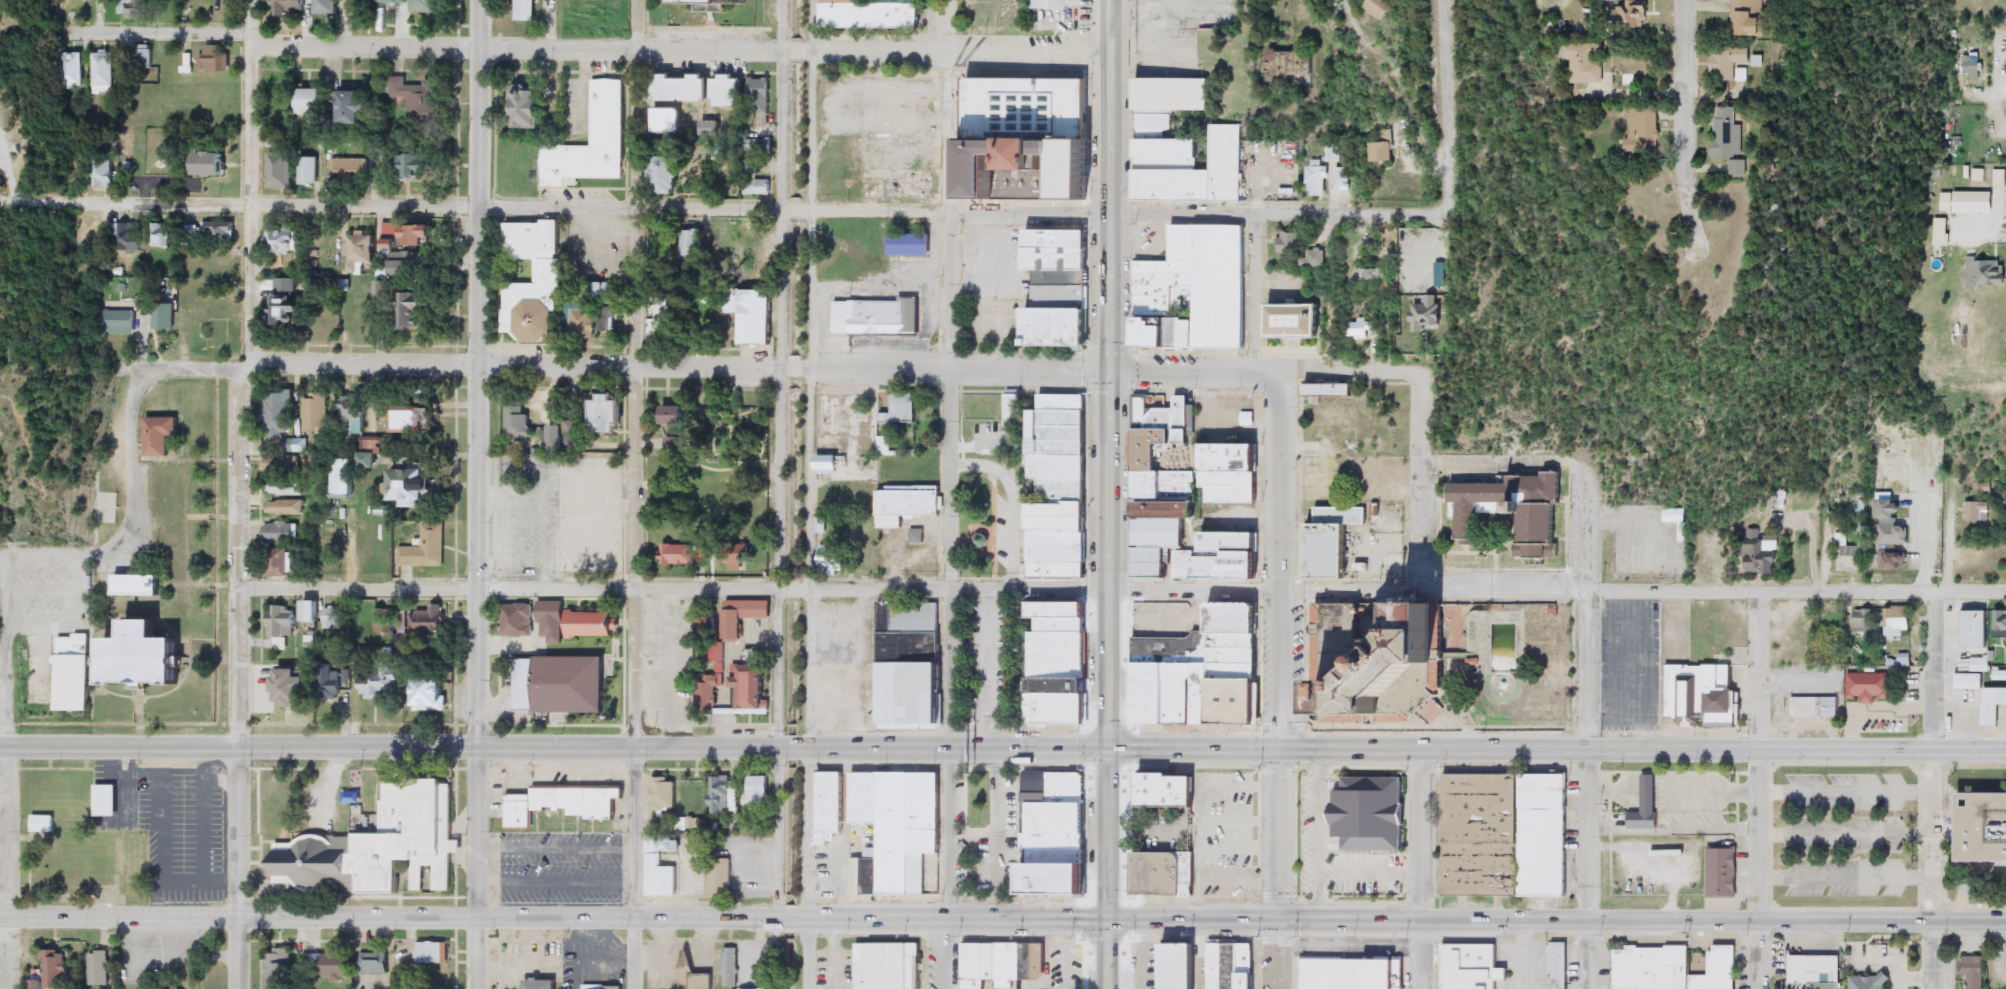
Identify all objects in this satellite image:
road: (1534, 0)
building: (717, 2)
building: (1051, 4)
building: (429, 6)
road: (1349, 6)
building: (72, 7)
building: (290, 7)
building: (326, 7)
building: (1377, 8)
building: (135, 9)
building: (525, 10)
building: (1631, 13)
building: (869, 14)
building: (1754, 18)
road: (585, 49)
building: (144, 59)
building: (213, 59)
building: (1586, 62)
building: (1729, 63)
building: (1969, 66)
building: (72, 69)
building: (103, 74)
building: (684, 88)
building: (732, 91)
road: (2005, 91)
building: (279, 97)
building: (417, 97)
building: (313, 101)
building: (762, 102)
road: (1447, 102)
building: (354, 106)
building: (529, 107)
road: (1687, 107)
building: (607, 113)
building: (670, 120)
building: (711, 128)
building: (1645, 130)
building: (1731, 135)
building: (1020, 138)
building: (759, 145)
building: (1182, 147)
building: (1386, 148)
building: (214, 164)
building: (417, 166)
building: (748, 167)
building: (348, 169)
building: (281, 170)
building: (309, 170)
building: (103, 173)
building: (1339, 175)
building: (666, 178)
building: (1318, 178)
road: (39, 201)
building: (1960, 202)
road: (593, 206)
road: (1279, 212)
building: (220, 232)
building: (391, 232)
building: (1936, 232)
building: (162, 235)
building: (419, 235)
road: (2005, 235)
building: (130, 238)
building: (284, 240)
building: (663, 241)
building: (1290, 242)
building: (910, 244)
building: (691, 245)
building: (756, 250)
building: (361, 253)
building: (1314, 259)
building: (414, 266)
building: (550, 272)
building: (1979, 273)
building: (1374, 275)
building: (606, 291)
building: (1195, 291)
building: (1059, 292)
building: (288, 302)
building: (732, 303)
building: (412, 311)
building: (1428, 315)
building: (665, 316)
building: (165, 317)
building: (758, 317)
building: (876, 318)
building: (1298, 321)
building: (590, 322)
building: (118, 323)
building: (1357, 329)
road: (615, 366)
traffic signals: (1107, 369)
road: (1262, 370)
road: (246, 374)
road: (475, 374)
road: (636, 374)
road: (779, 374)
road: (810, 374)
road: (949, 374)
road: (1106, 374)
building: (1331, 391)
building: (899, 408)
building: (316, 413)
road: (1419, 413)
building: (610, 414)
building: (354, 415)
building: (677, 415)
building: (413, 420)
building: (281, 421)
building: (1014, 421)
building: (518, 422)
building: (161, 435)
building: (677, 445)
building: (557, 446)
building: (885, 446)
building: (368, 453)
building: (317, 460)
building: (281, 463)
building: (830, 463)
building: (741, 469)
building: (1234, 474)
building: (345, 478)
road: (1278, 478)
building: (414, 487)
building: (1060, 487)
building: (287, 488)
railway: (789, 494)
building: (752, 503)
building: (907, 504)
building: (286, 507)
building: (1972, 510)
building: (1182, 511)
building: (1542, 519)
road: (1419, 522)
building: (282, 533)
building: (1331, 542)
building: (424, 548)
building: (1751, 552)
building: (866, 554)
building: (677, 555)
building: (1707, 556)
building: (1846, 556)
building: (832, 559)
building: (736, 562)
road: (63, 563)
building: (284, 564)
building: (140, 586)
road: (672, 587)
road: (1796, 588)
road: (1347, 591)
building: (311, 612)
building: (1899, 615)
building: (743, 616)
building: (1865, 616)
building: (332, 619)
building: (428, 620)
building: (517, 620)
building: (384, 621)
building: (551, 621)
building: (591, 624)
building: (1996, 624)
building: (282, 625)
building: (1965, 628)
building: (1905, 656)
building: (149, 658)
building: (1974, 664)
building: (1060, 665)
building: (910, 667)
road: (1762, 667)
road: (1934, 667)
road: (1588, 669)
building: (75, 673)
building: (1211, 678)
building: (754, 682)
building: (329, 683)
building: (1872, 683)
building: (379, 685)
building: (572, 685)
building: (294, 687)
building: (711, 688)
building: (1403, 691)
building: (432, 694)
building: (1694, 695)
building: (1979, 695)
building: (1816, 704)
road: (553, 749)
traffic signals: (1107, 749)
traffic signals: (1280, 750)
road: (1556, 750)
building: (1064, 785)
road: (1847, 785)
road: (1933, 788)
building: (1167, 790)
building: (761, 792)
building: (664, 794)
building: (720, 795)
building: (107, 801)
building: (564, 803)
building: (830, 807)
building: (1369, 812)
road: (4, 816)
building: (1060, 817)
building: (1641, 821)
building: (43, 824)
road: (1846, 829)
building: (1983, 829)
parking lot: (1871, 830)
building: (897, 831)
building: (1482, 831)
building: (1545, 833)
road: (947, 835)
road: (1108, 835)
road: (1279, 835)
building: (1056, 841)
building: (378, 847)
road: (4, 848)
building: (1059, 858)
building: (653, 860)
road: (8, 865)
road: (1760, 867)
road: (238, 868)
road: (805, 868)
road: (476, 869)
road: (634, 869)
building: (1188, 869)
road: (1422, 869)
road: (1588, 870)
building: (1159, 872)
building: (1716, 872)
road: (1846, 873)
building: (691, 879)
building: (720, 879)
building: (1060, 885)
road: (1932, 894)
road: (473, 914)
road: (1027, 921)
traffic signals: (1279, 921)
traffic signals: (1109, 922)
road: (1557, 923)
road: (1932, 951)
building: (432, 953)
road: (945, 955)
road: (1109, 955)
road: (1279, 955)
building: (374, 964)
building: (887, 964)
building: (1559, 964)
building: (332, 965)
building: (991, 965)
building: (1472, 965)
building: (1180, 966)
building: (730, 967)
building: (98, 968)
building: (1651, 968)
building: (277, 969)
building: (55, 970)
building: (1718, 970)
building: (1334, 972)
building: (1816, 972)
building: (1967, 972)
building: (1399, 973)
building: (692, 974)
building: (1380, 975)
building: (1251, 982)
building: (1862, 982)
building: (541, 984)
building: (162, 987)
building: (601, 987)
building: (754, 988)

